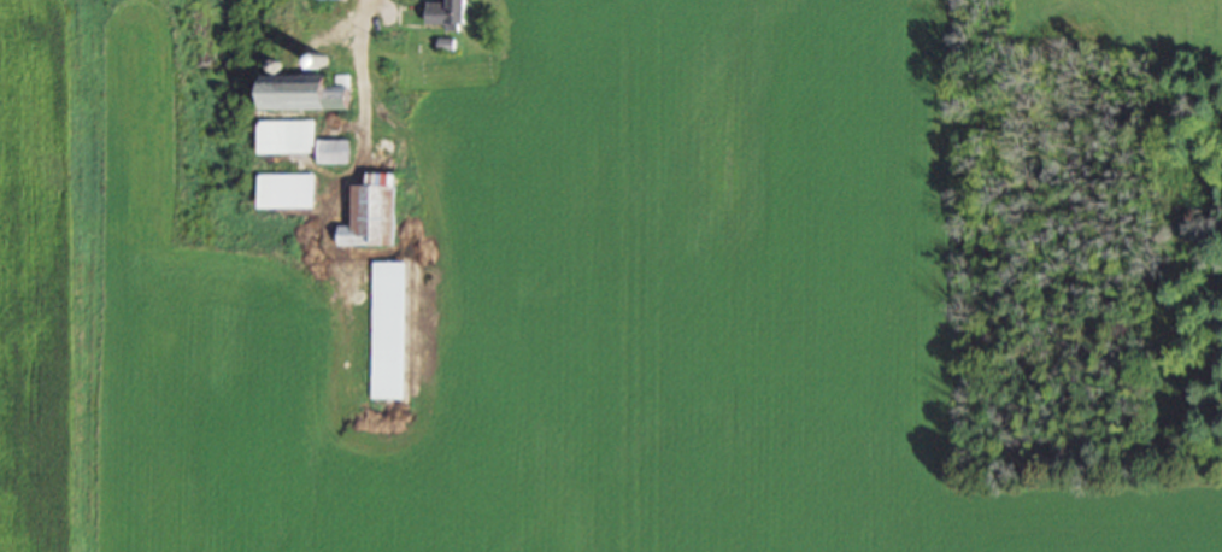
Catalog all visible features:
building: (446, 12)
building: (309, 93)
road: (356, 112)
building: (283, 137)
building: (330, 152)
building: (283, 190)
building: (369, 213)
building: (387, 330)

